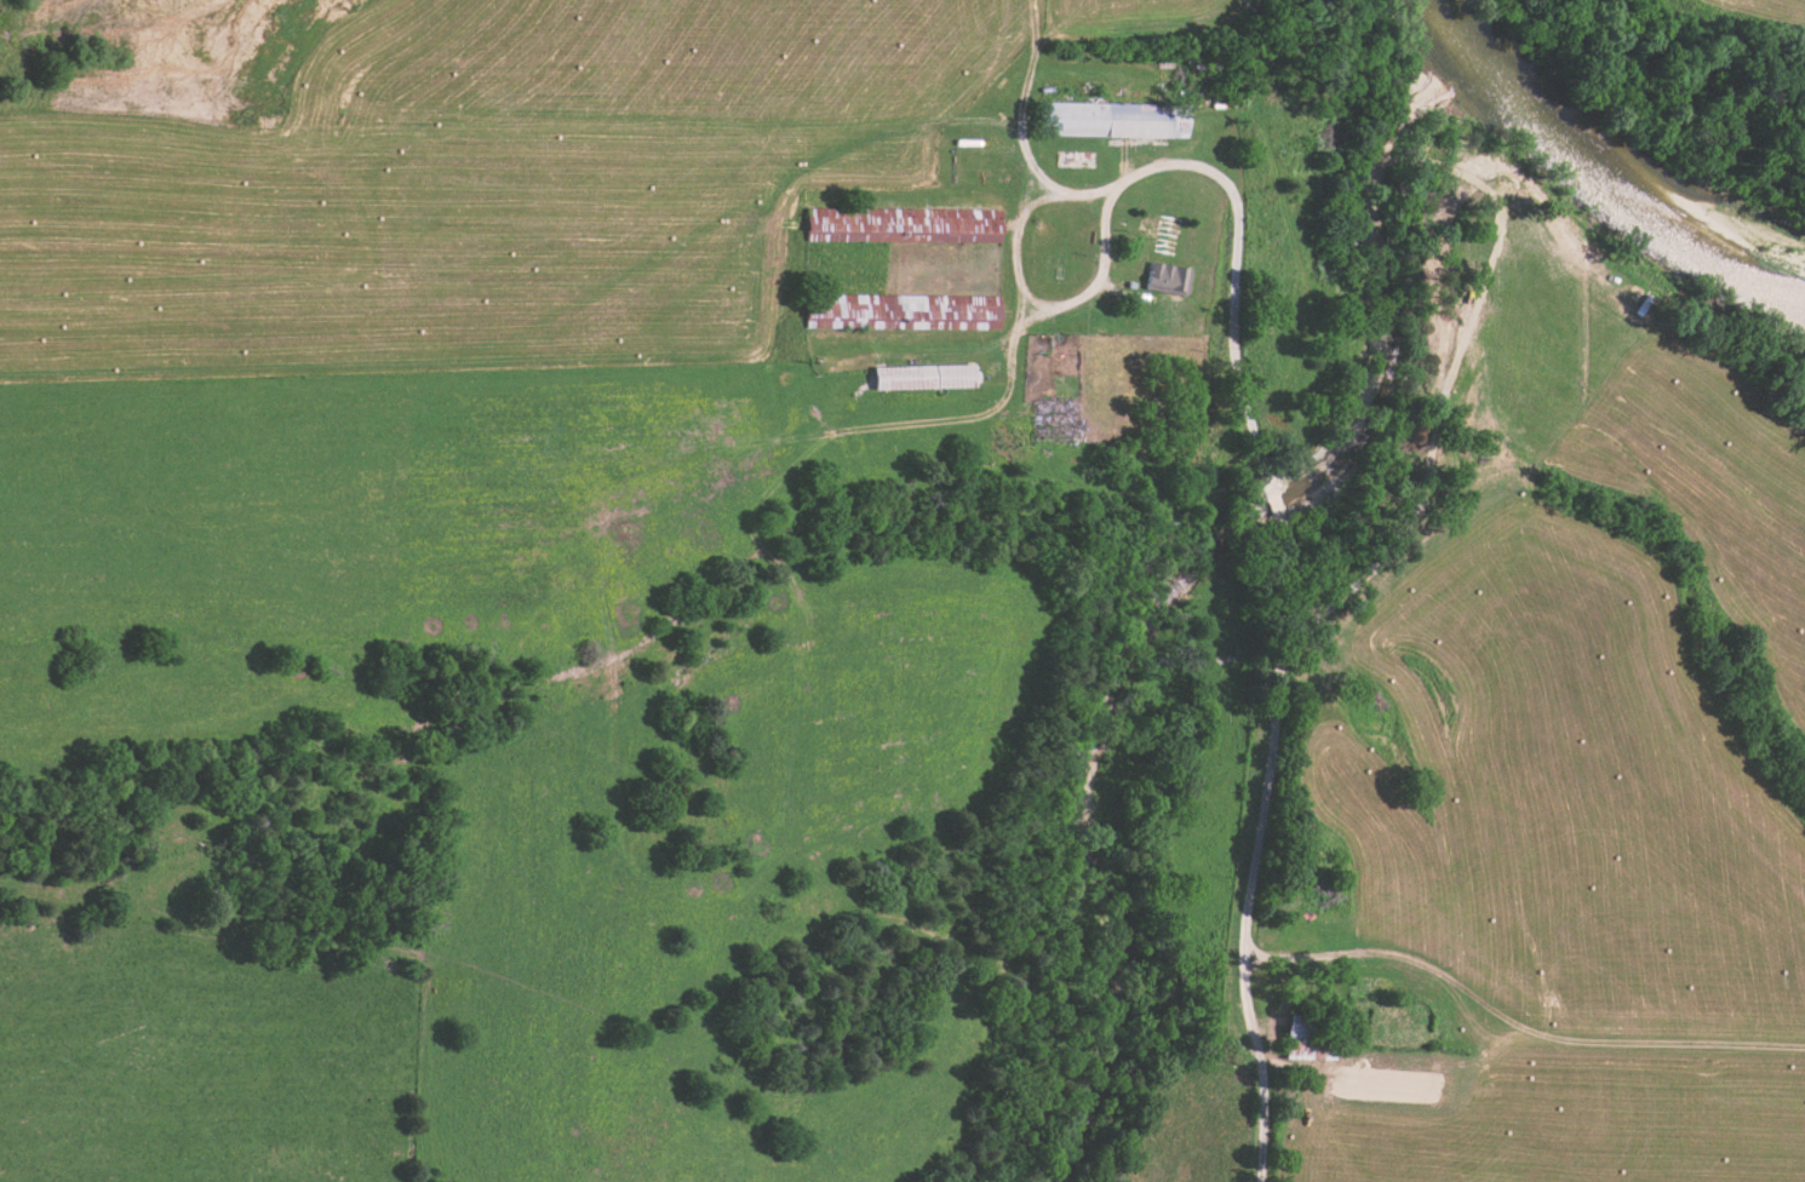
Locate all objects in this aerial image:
building: (1105, 120)
river: (1597, 193)
building: (904, 224)
building: (1153, 228)
building: (1165, 277)
building: (921, 311)
road: (700, 608)
road: (1271, 645)

